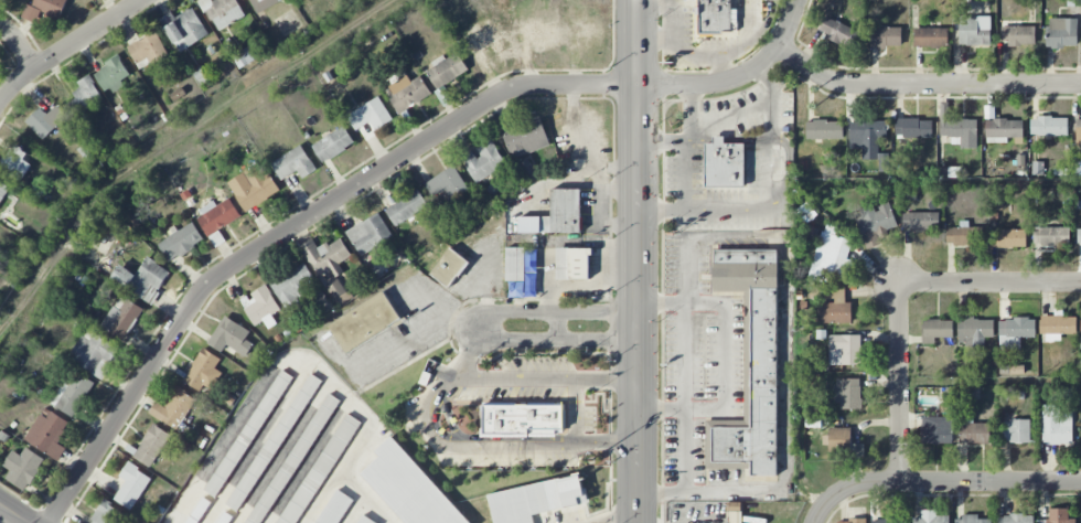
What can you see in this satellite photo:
building: (243, 0)
building: (263, 4)
building: (44, 9)
building: (222, 12)
building: (716, 17)
building: (184, 28)
building: (974, 30)
building: (838, 32)
building: (1061, 32)
building: (1018, 35)
building: (886, 38)
building: (931, 38)
building: (483, 41)
road: (18, 45)
road: (67, 46)
building: (147, 50)
building: (245, 56)
building: (446, 70)
building: (111, 75)
road: (738, 78)
road: (923, 84)
building: (407, 93)
building: (85, 95)
road: (771, 99)
road: (691, 113)
building: (370, 115)
road: (732, 115)
building: (45, 120)
building: (1048, 126)
building: (913, 128)
building: (824, 129)
building: (957, 129)
building: (1003, 130)
building: (1078, 131)
building: (867, 137)
building: (526, 138)
road: (662, 140)
road: (699, 140)
road: (719, 140)
building: (332, 145)
road: (593, 151)
building: (483, 161)
building: (14, 162)
building: (293, 163)
building: (724, 163)
building: (525, 168)
road: (768, 173)
building: (447, 183)
building: (256, 186)
road: (785, 189)
building: (3, 190)
road: (686, 198)
building: (406, 207)
building: (563, 212)
building: (217, 220)
building: (920, 221)
building: (875, 222)
road: (292, 230)
building: (370, 234)
building: (964, 235)
building: (1051, 236)
building: (1079, 236)
building: (1007, 238)
building: (180, 242)
building: (327, 256)
building: (832, 257)
road: (636, 260)
building: (572, 263)
building: (449, 267)
building: (522, 273)
building: (142, 279)
road: (989, 281)
building: (293, 286)
building: (335, 288)
building: (835, 306)
building: (261, 307)
building: (121, 318)
building: (365, 322)
road: (468, 325)
road: (556, 325)
building: (1057, 325)
building: (1080, 328)
building: (935, 330)
building: (976, 330)
building: (1015, 332)
building: (231, 337)
road: (784, 337)
building: (844, 350)
building: (94, 353)
road: (469, 355)
road: (725, 356)
road: (304, 357)
building: (750, 365)
building: (201, 370)
road: (684, 378)
road: (899, 382)
building: (72, 393)
building: (847, 393)
building: (173, 408)
road: (579, 410)
road: (425, 413)
building: (522, 419)
building: (1056, 426)
building: (936, 429)
building: (1016, 430)
building: (47, 433)
building: (248, 434)
building: (274, 442)
building: (843, 442)
building: (151, 445)
road: (684, 450)
building: (22, 467)
building: (320, 470)
road: (939, 481)
building: (131, 485)
building: (408, 487)
building: (536, 499)
building: (333, 508)
building: (200, 511)
road: (1, 512)
building: (107, 514)
road: (11, 515)
road: (617, 516)
building: (1058, 516)
building: (224, 517)
building: (931, 519)
building: (1015, 519)
building: (365, 520)
building: (889, 520)
building: (971, 520)
building: (852, 521)

